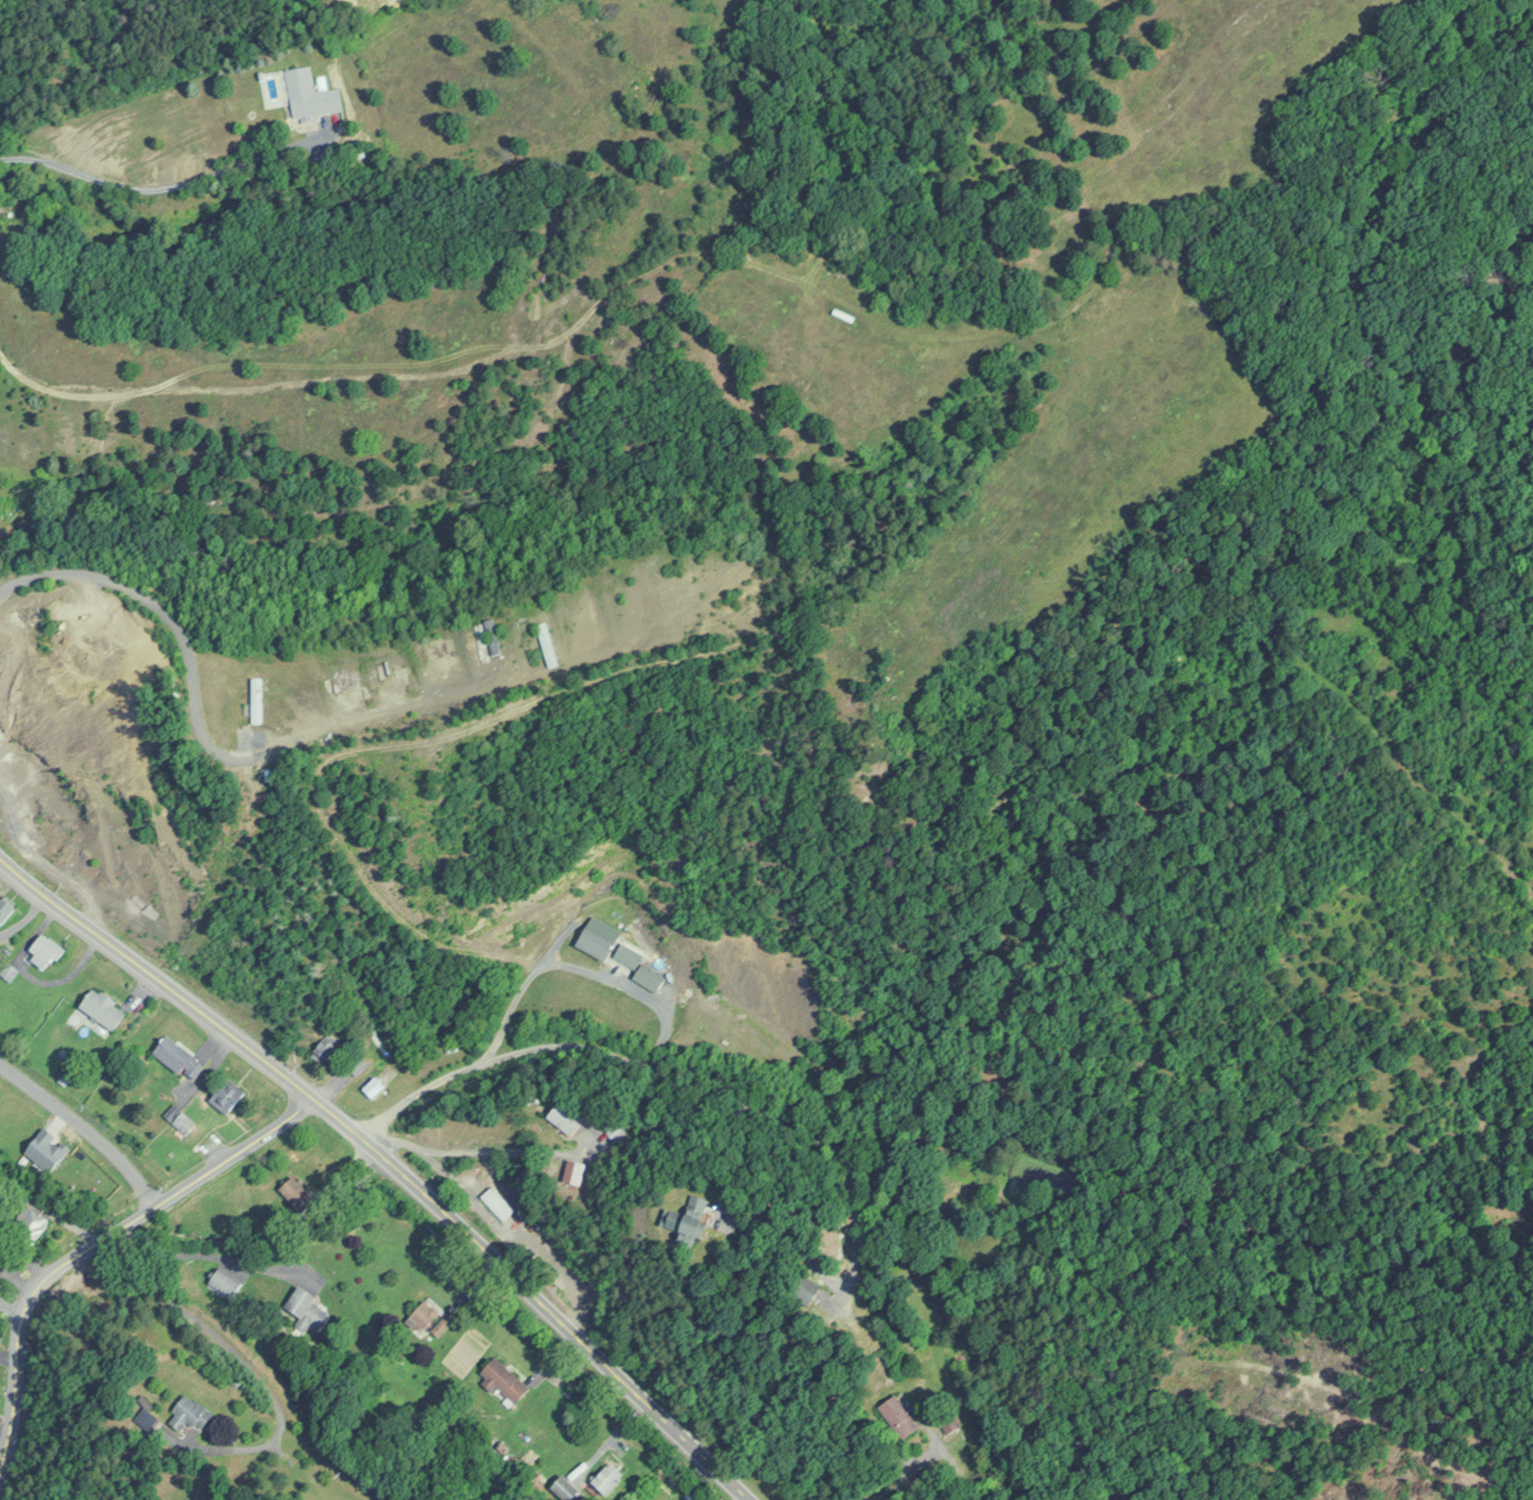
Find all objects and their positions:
building: (310, 93)
building: (0, 188)
building: (6, 907)
building: (47, 953)
building: (621, 954)
building: (105, 1008)
building: (326, 1049)
building: (179, 1055)
building: (375, 1086)
road: (715, 1092)
building: (229, 1094)
building: (566, 1116)
building: (181, 1119)
road: (83, 1129)
road: (385, 1164)
building: (575, 1171)
building: (299, 1194)
building: (496, 1203)
building: (696, 1217)
building: (29, 1220)
road: (89, 1249)
building: (223, 1283)
building: (306, 1306)
building: (425, 1315)
building: (443, 1323)
building: (505, 1379)
building: (192, 1413)
building: (901, 1415)
building: (359, 1474)
building: (607, 1476)
building: (564, 1487)

